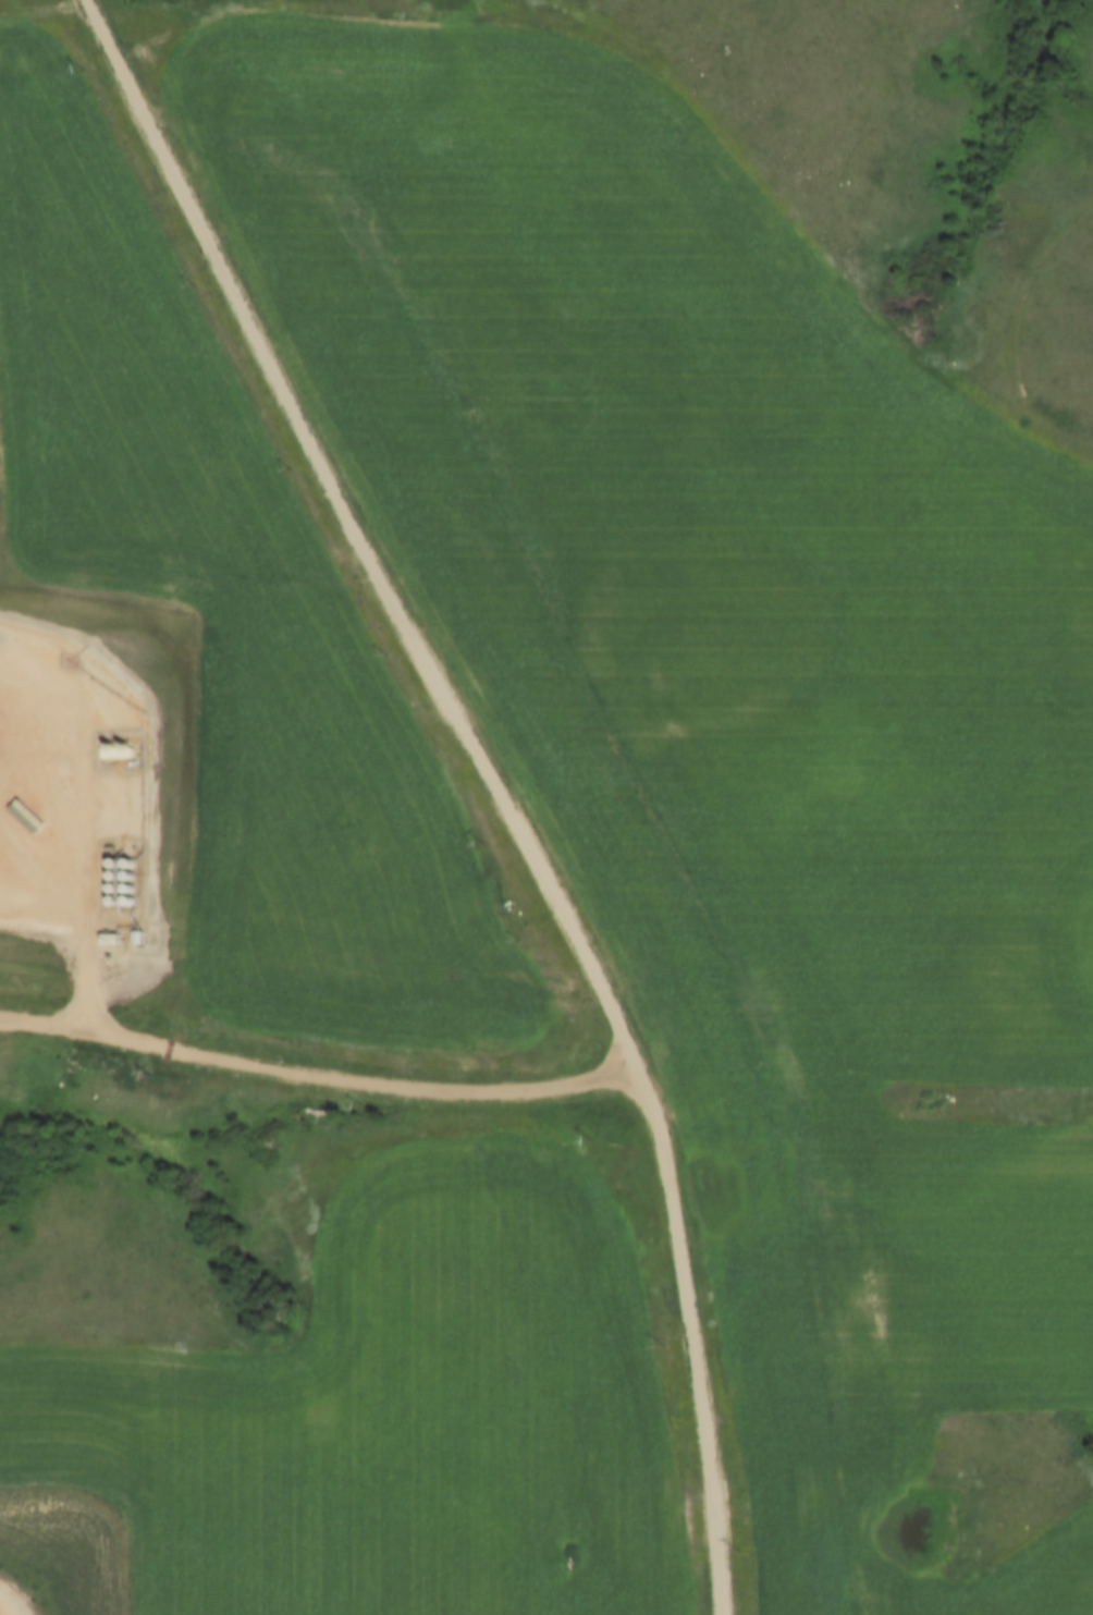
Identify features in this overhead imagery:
road: (496, 781)
road: (316, 1057)

